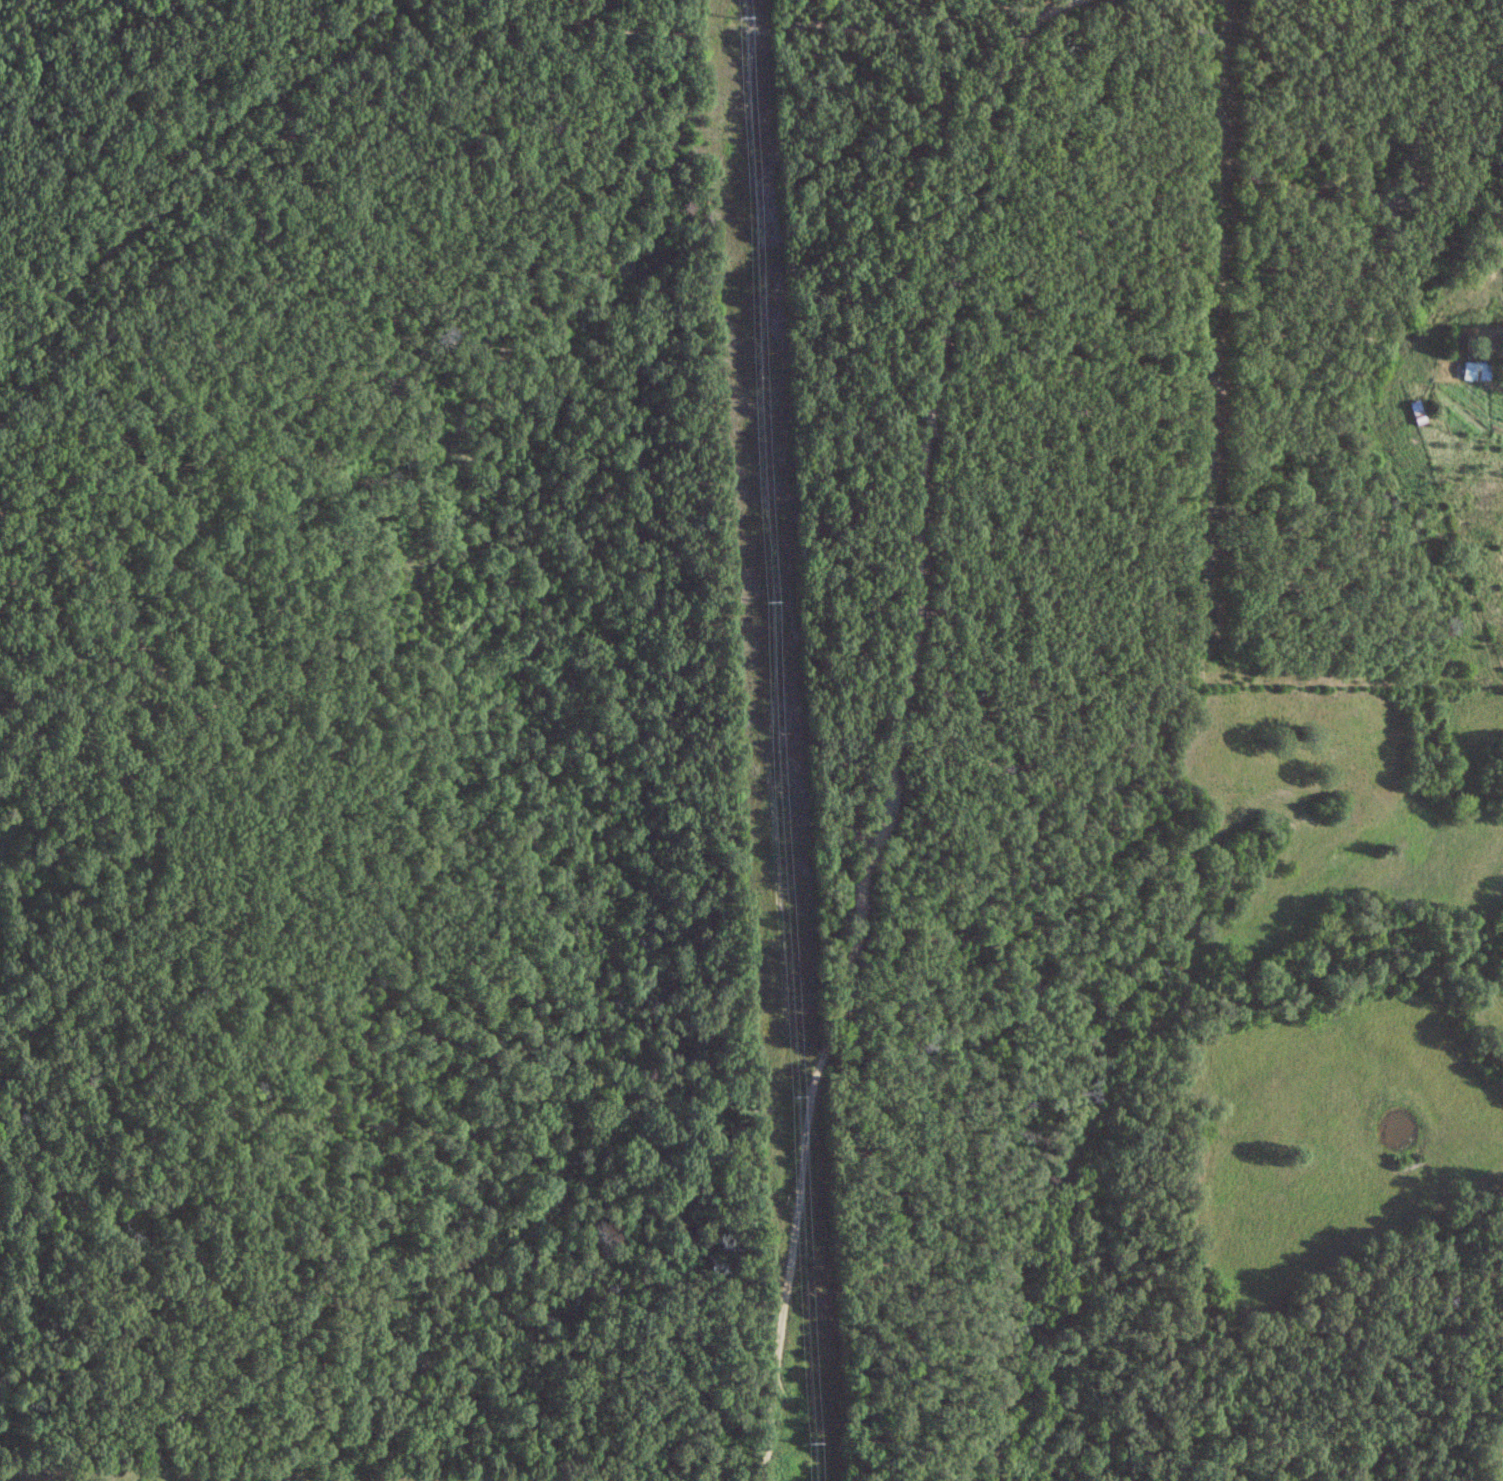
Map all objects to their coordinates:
building: (1470, 371)

